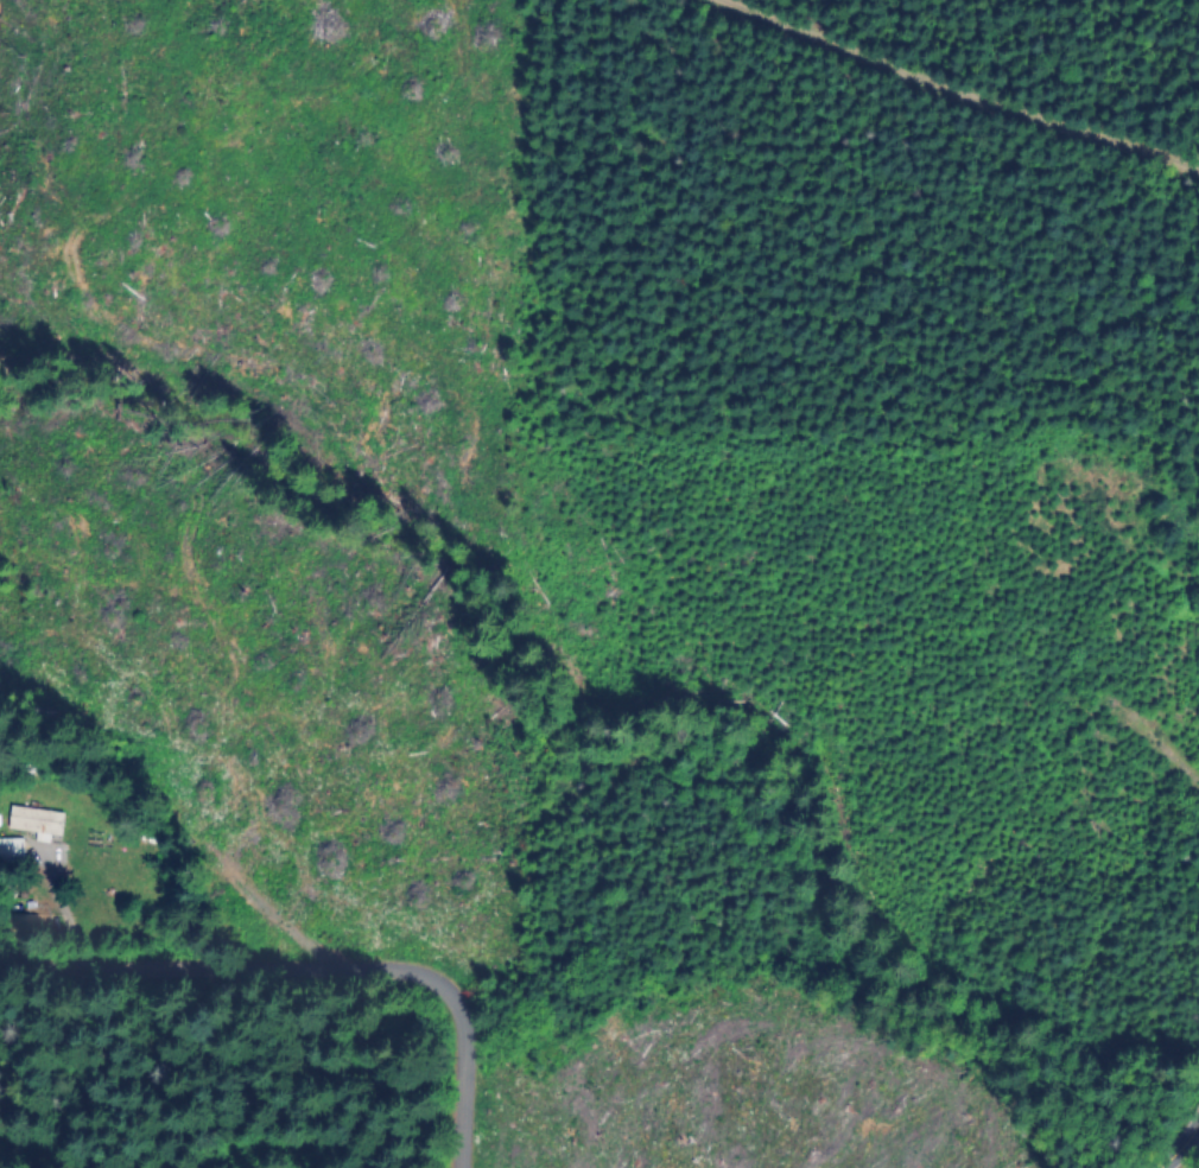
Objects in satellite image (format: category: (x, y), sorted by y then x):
building: (37, 819)
building: (12, 852)
building: (11, 887)
building: (37, 890)
road: (313, 959)
road: (1176, 1136)

